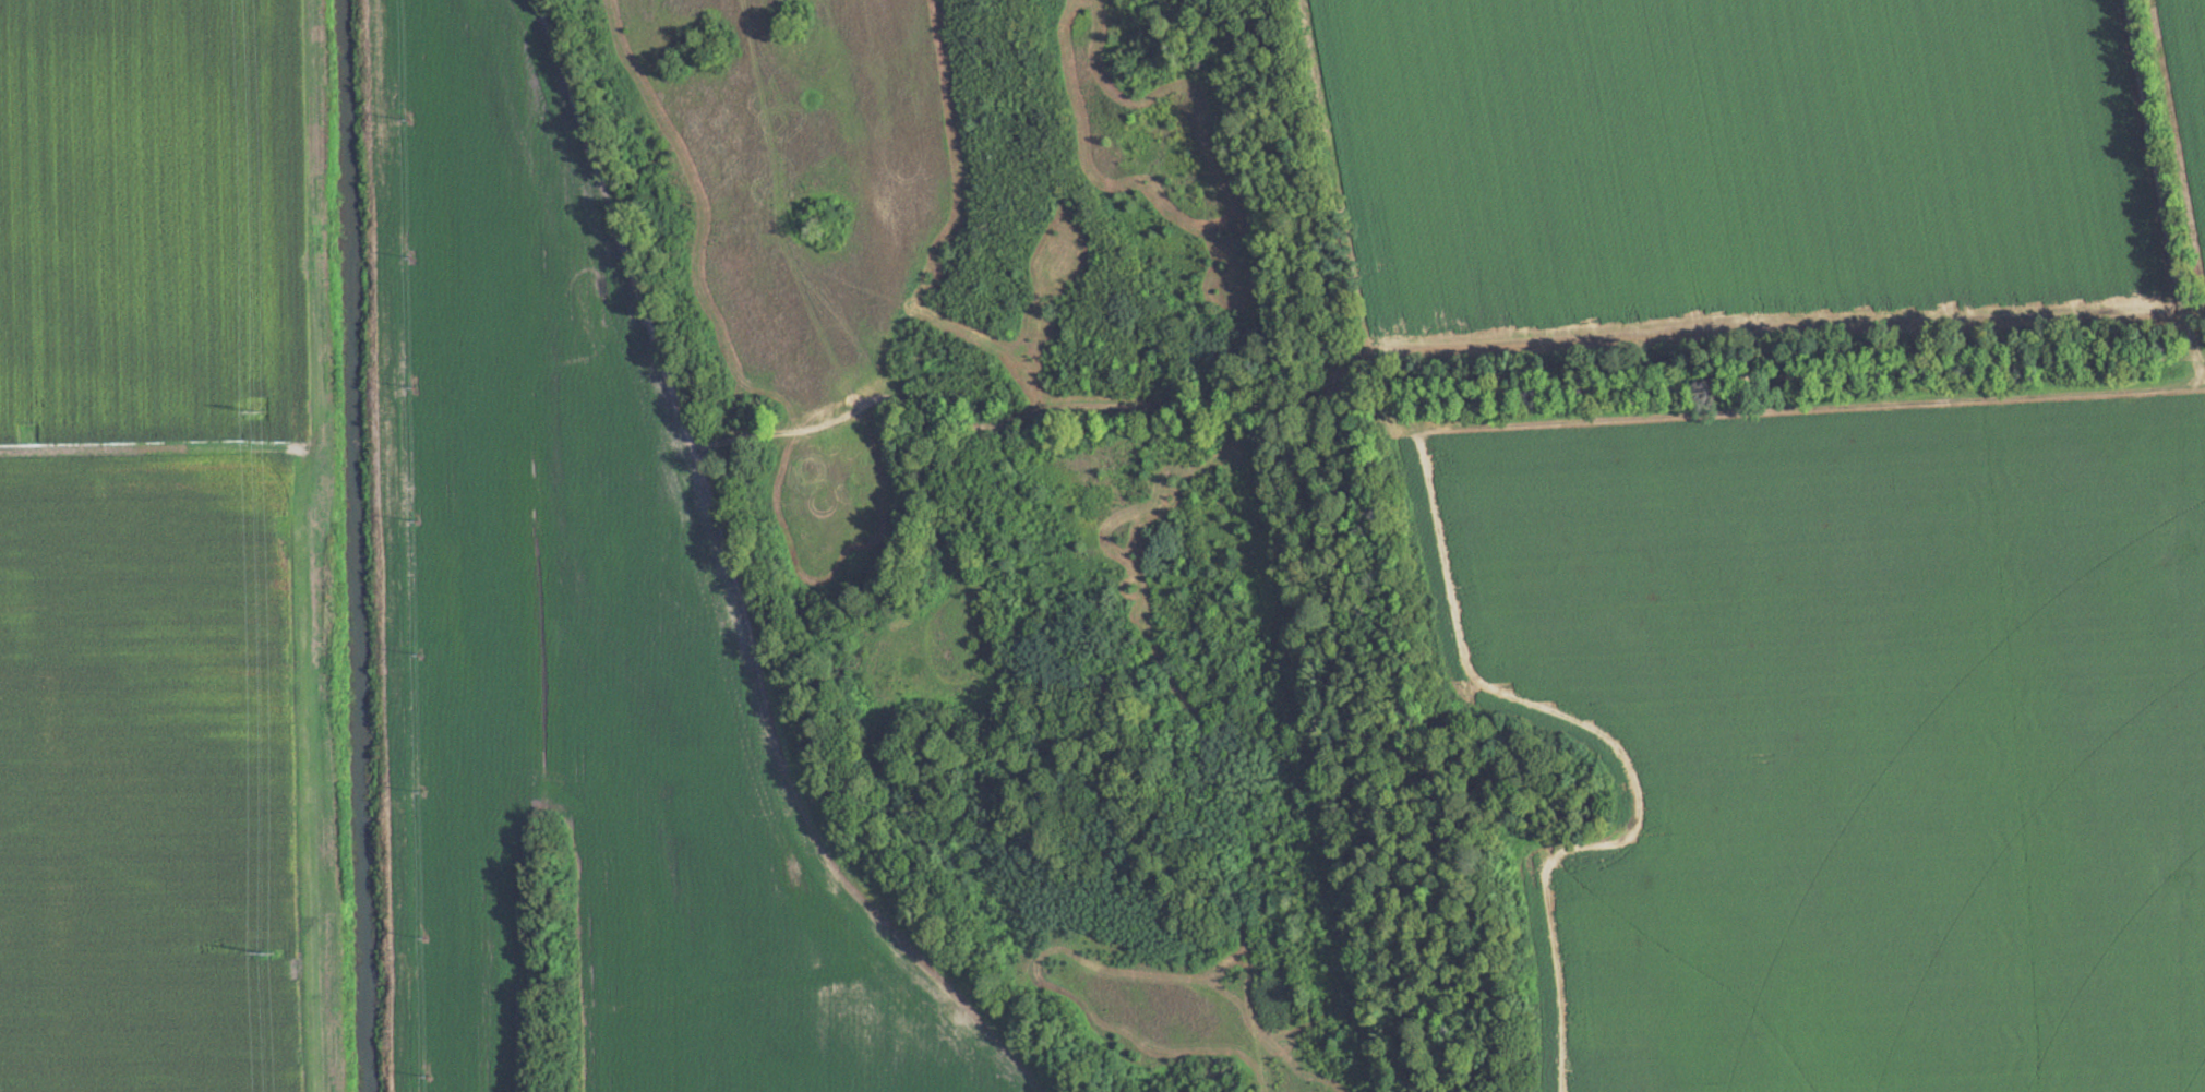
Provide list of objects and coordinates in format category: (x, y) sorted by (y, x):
road: (2159, 175)

